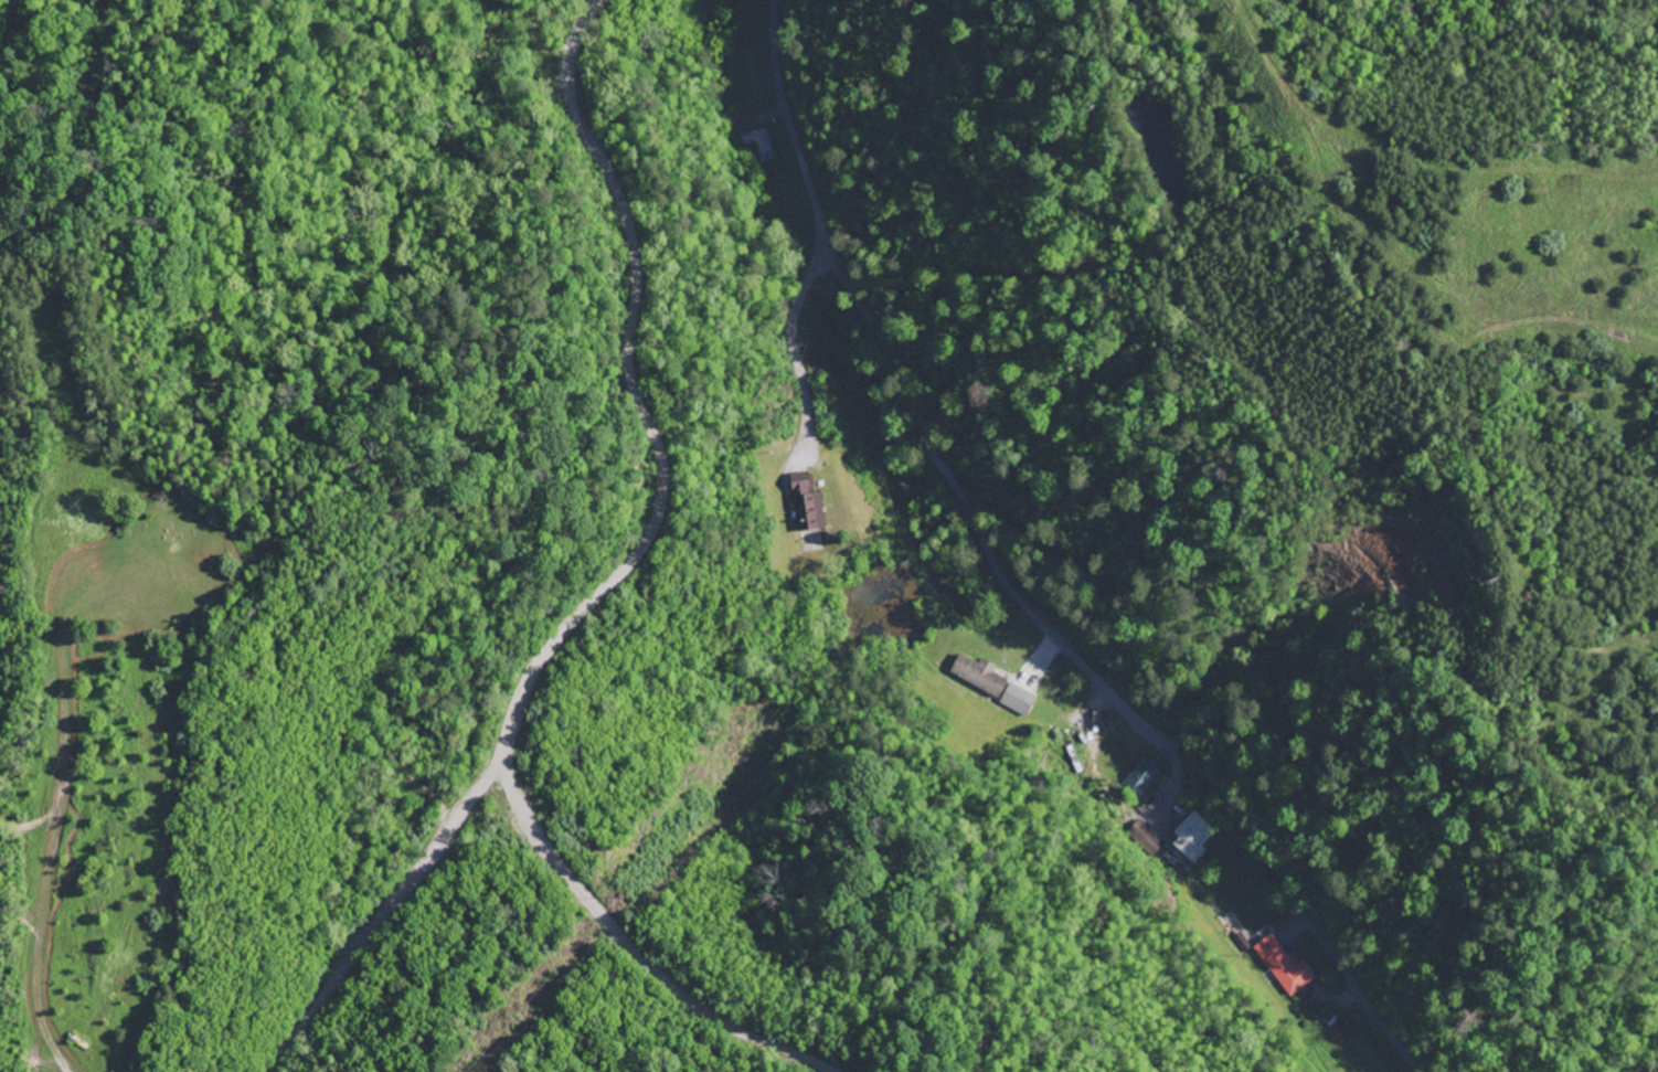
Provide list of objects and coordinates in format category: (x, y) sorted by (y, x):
building: (759, 145)
building: (808, 506)
building: (995, 684)
building: (1144, 779)
building: (1193, 838)
building: (1147, 839)
building: (1287, 968)

